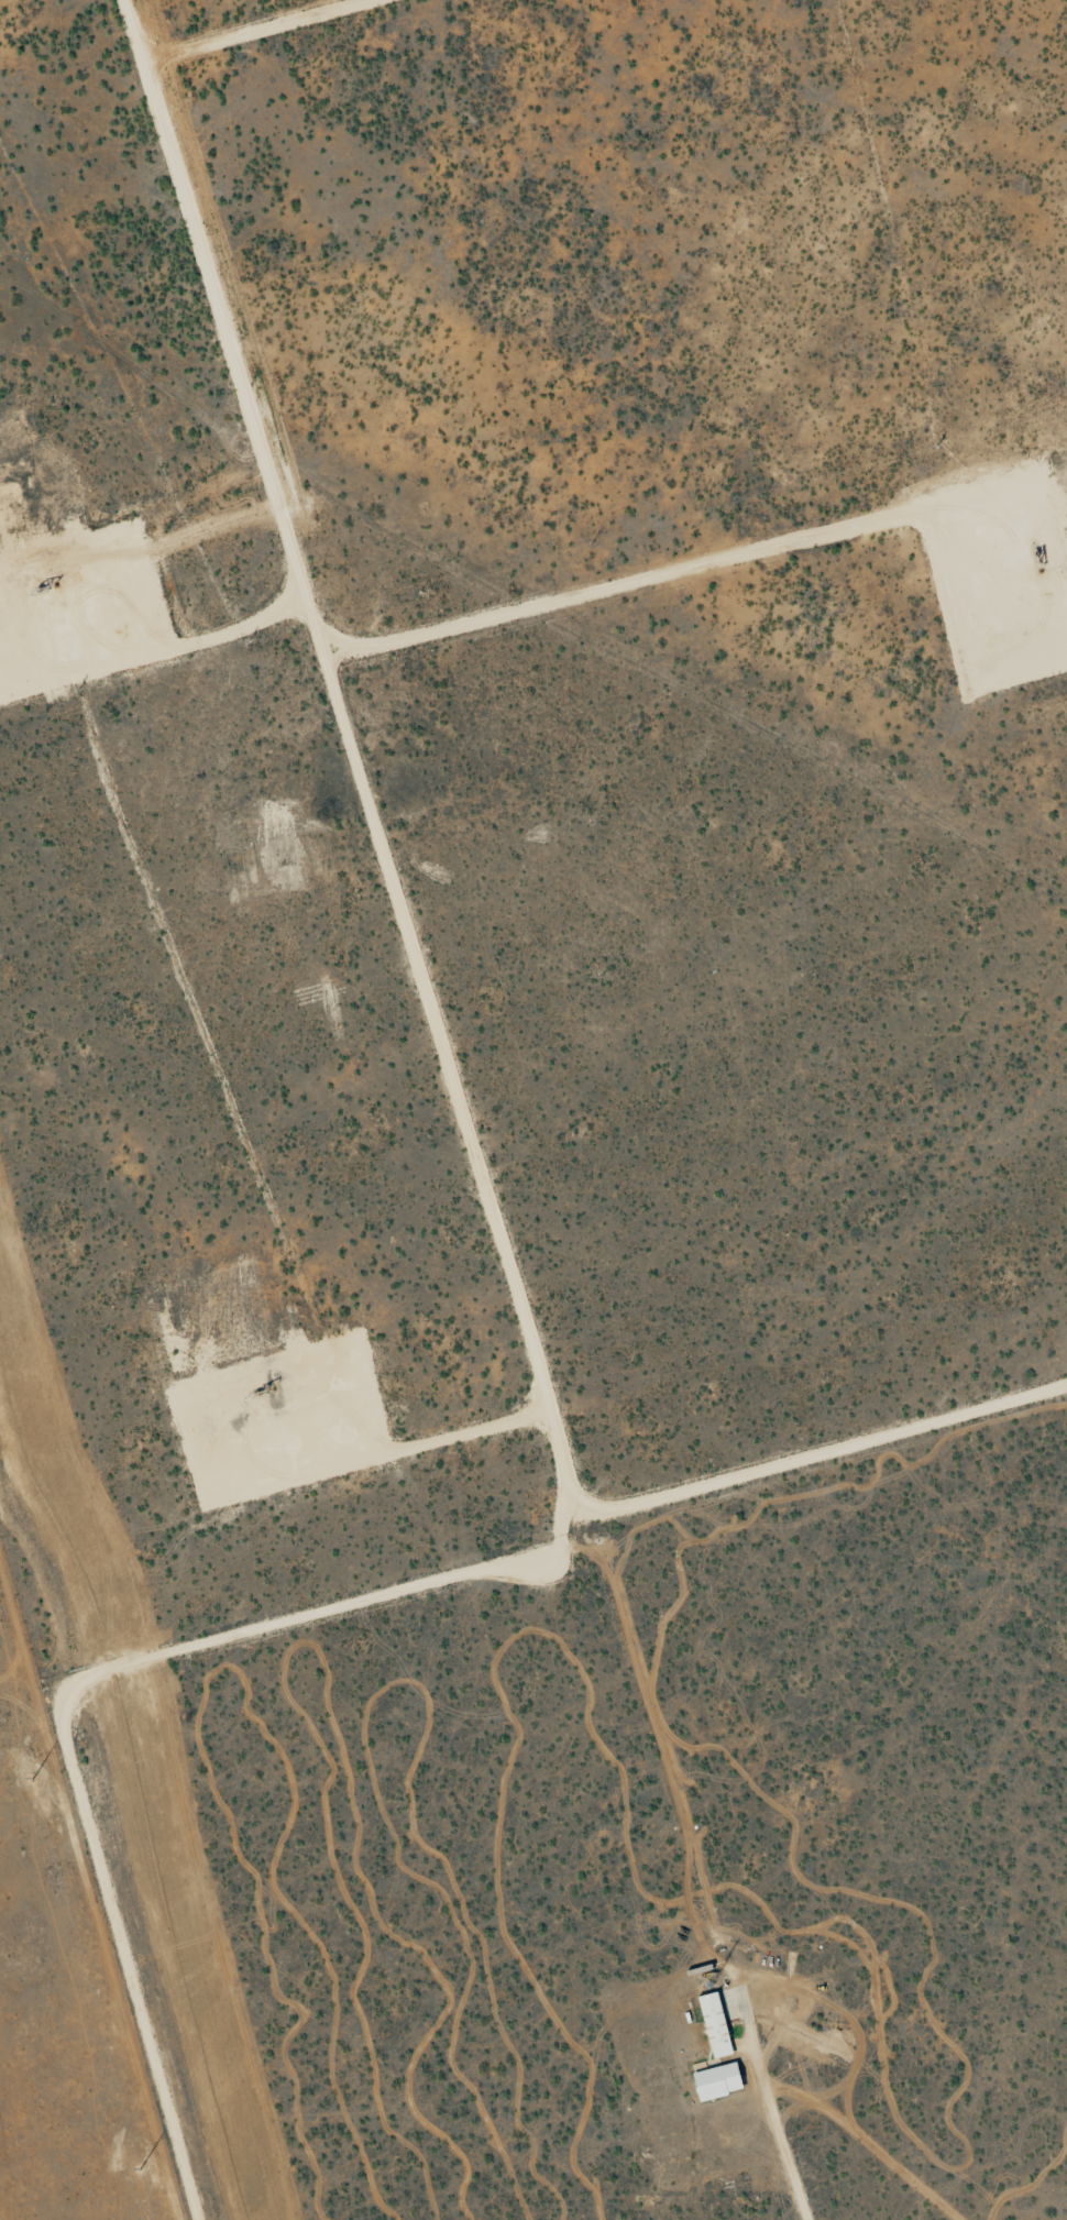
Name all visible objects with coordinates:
road: (515, 590)
road: (461, 1110)
building: (715, 2025)
building: (715, 2082)

